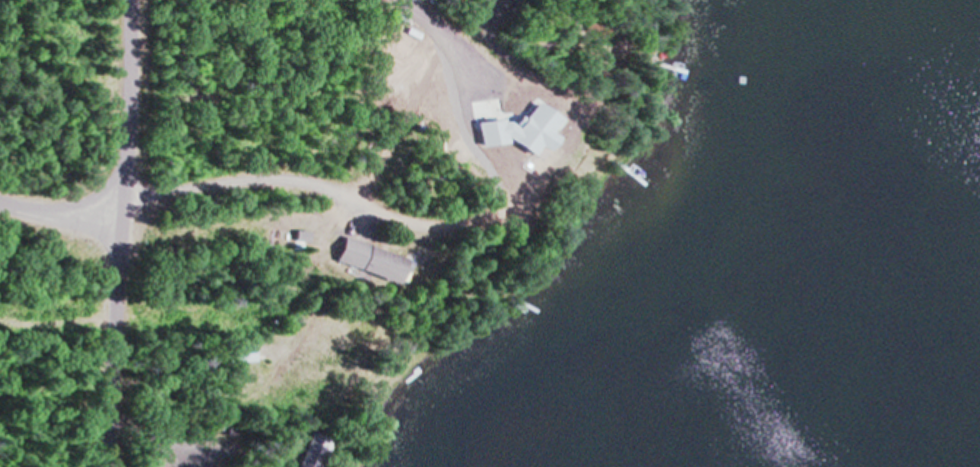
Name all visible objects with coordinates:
building: (550, 0)
building: (534, 22)
building: (586, 23)
building: (585, 33)
road: (117, 108)
building: (547, 152)
road: (267, 175)
road: (54, 215)
building: (292, 236)
building: (356, 260)
road: (112, 342)
building: (237, 350)
building: (325, 364)
building: (303, 448)

